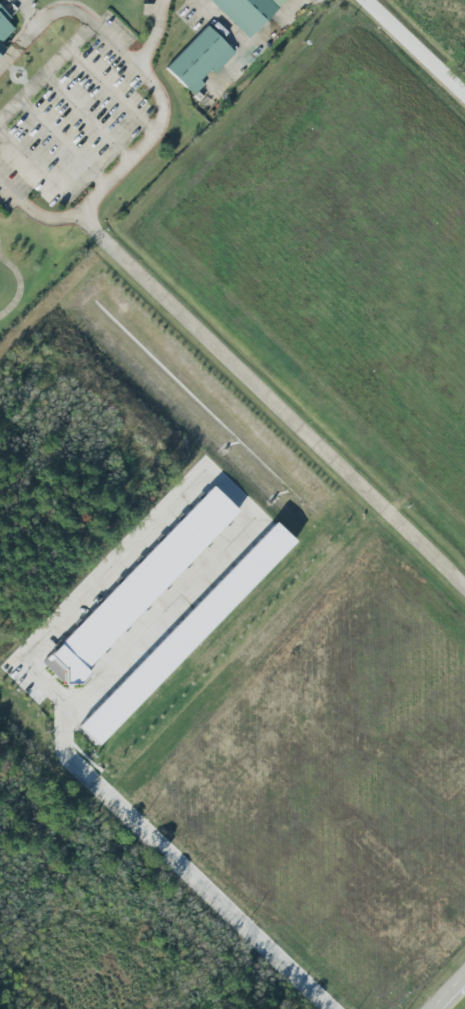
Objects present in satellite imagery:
building: (247, 12)
building: (3, 18)
road: (152, 35)
building: (1, 49)
road: (413, 49)
building: (200, 59)
road: (45, 70)
road: (109, 92)
road: (159, 112)
road: (84, 117)
road: (59, 143)
park: (142, 155)
road: (44, 177)
road: (274, 403)
road: (204, 484)
building: (134, 590)
building: (184, 633)
road: (173, 866)
road: (448, 991)

